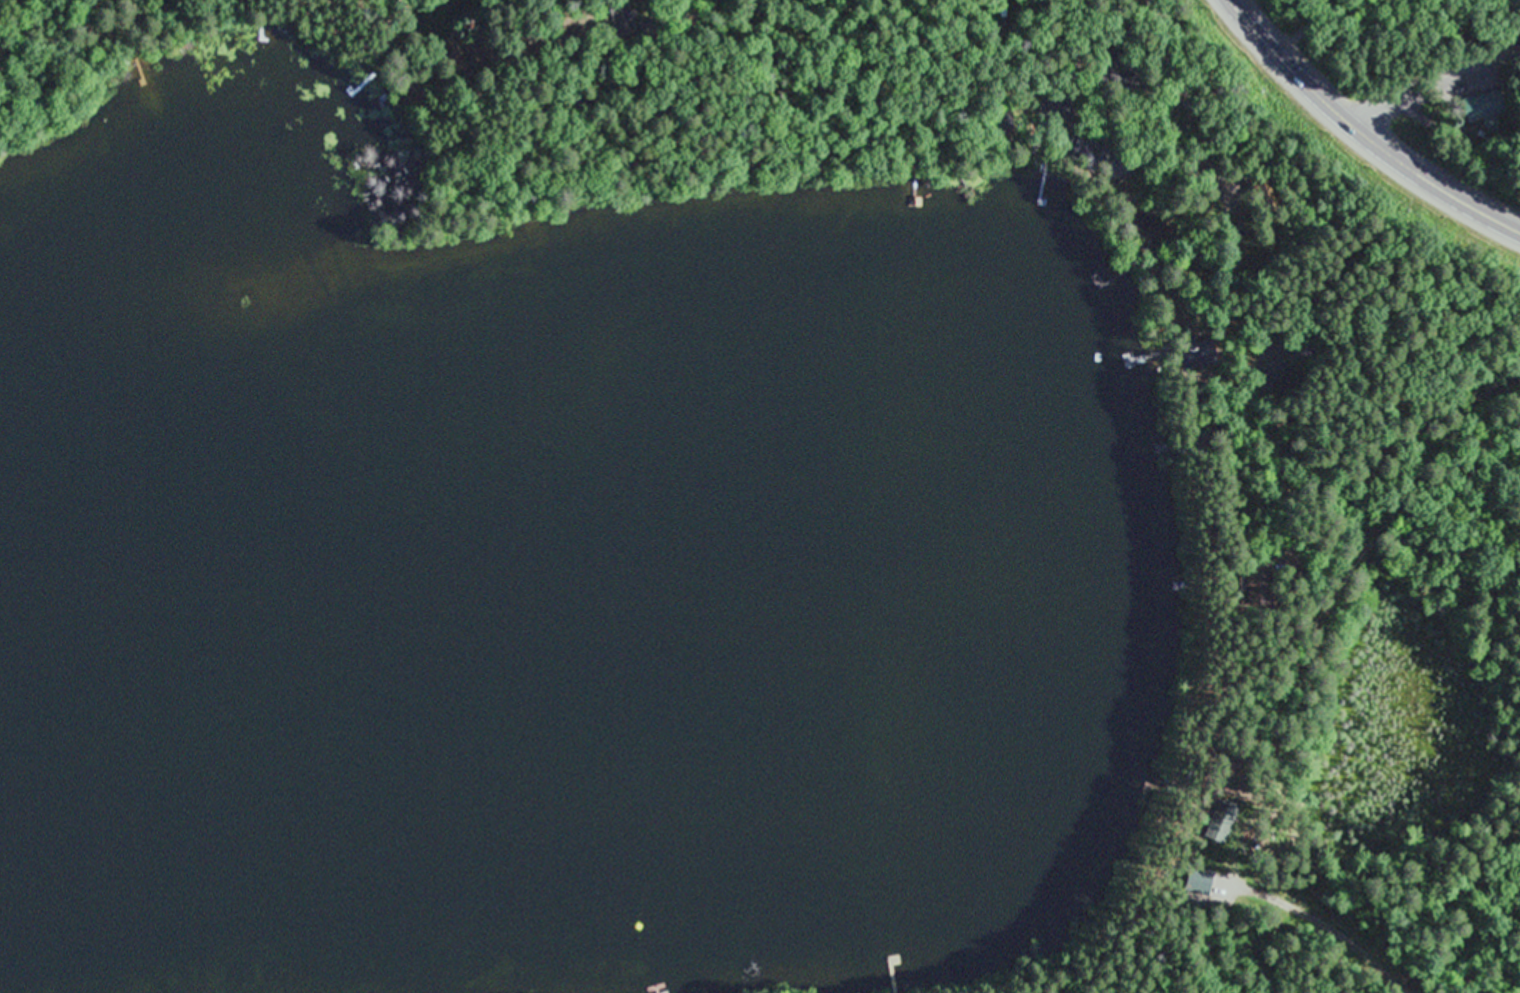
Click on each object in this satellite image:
building: (618, 19)
building: (1486, 105)
road: (1360, 132)
road: (1411, 426)

